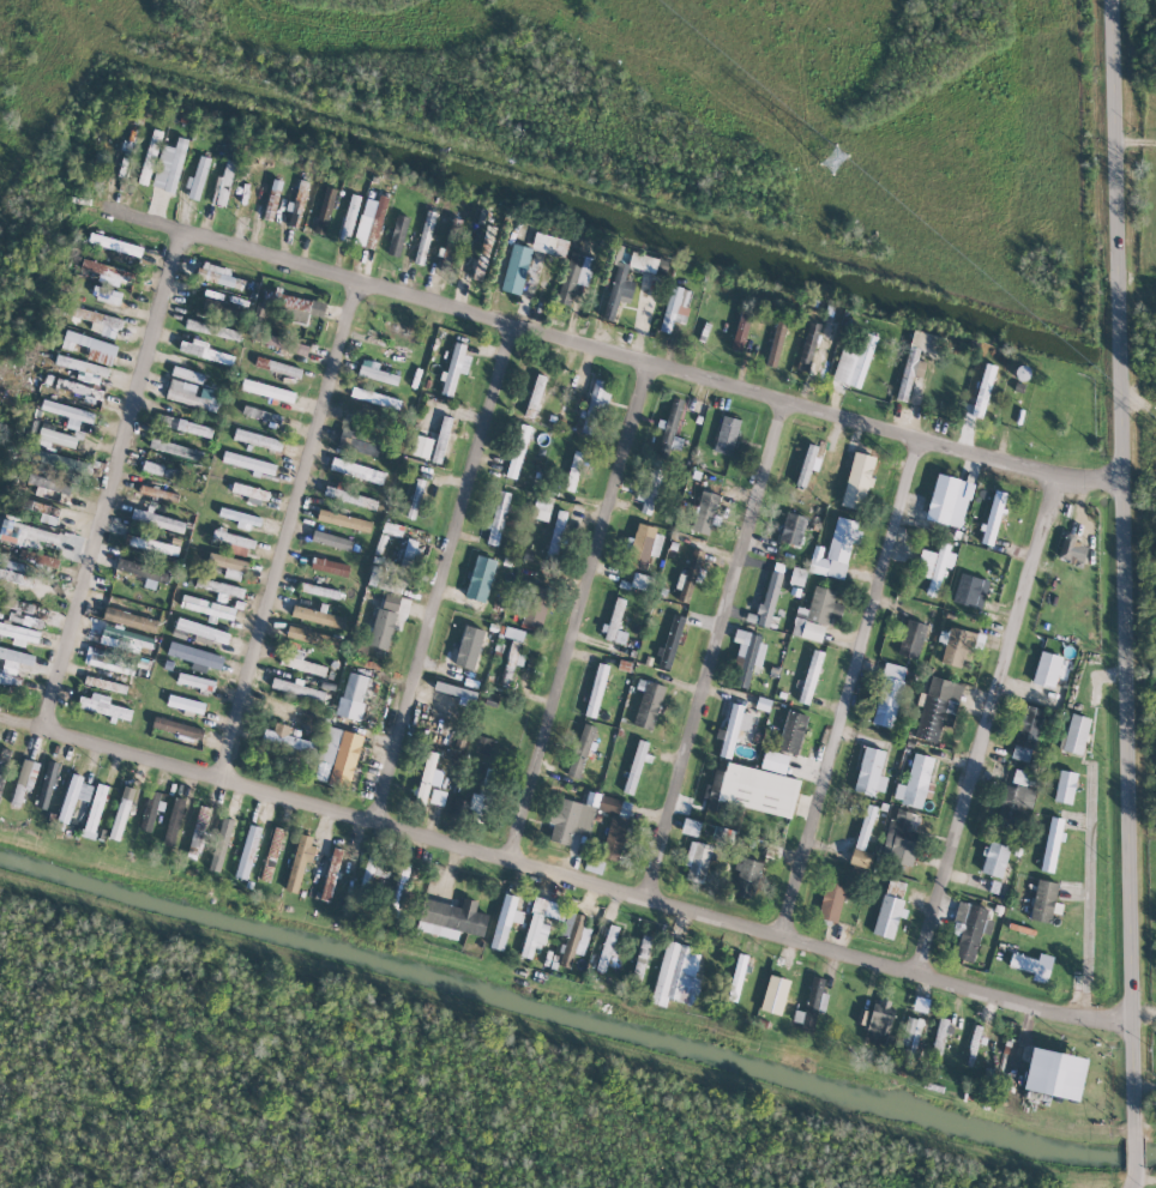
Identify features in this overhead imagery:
road: (1133, 150)
building: (150, 157)
building: (170, 165)
building: (198, 177)
power tower: (855, 177)
building: (223, 185)
building: (272, 199)
building: (297, 203)
building: (325, 210)
building: (478, 216)
building: (349, 217)
building: (372, 224)
building: (398, 235)
building: (425, 237)
building: (451, 241)
building: (115, 245)
building: (549, 245)
building: (643, 261)
building: (480, 267)
building: (516, 269)
building: (107, 271)
building: (213, 273)
building: (574, 276)
building: (618, 291)
building: (106, 294)
building: (222, 308)
building: (675, 308)
building: (302, 309)
building: (259, 312)
building: (97, 319)
building: (212, 328)
building: (281, 342)
building: (776, 344)
building: (90, 346)
building: (807, 346)
building: (204, 351)
road: (607, 354)
building: (913, 363)
building: (278, 367)
building: (456, 367)
building: (83, 368)
building: (377, 372)
building: (187, 374)
building: (78, 390)
building: (267, 391)
building: (192, 394)
building: (980, 394)
building: (536, 396)
building: (594, 408)
building: (68, 414)
building: (261, 414)
building: (185, 426)
building: (670, 426)
building: (55, 435)
building: (727, 435)
building: (441, 439)
building: (258, 440)
building: (357, 445)
building: (422, 446)
building: (176, 448)
building: (518, 451)
building: (248, 463)
building: (58, 464)
building: (808, 464)
building: (162, 470)
building: (356, 470)
building: (573, 471)
road: (120, 481)
building: (857, 481)
building: (651, 489)
building: (249, 492)
building: (350, 497)
building: (415, 499)
building: (949, 500)
building: (543, 507)
building: (43, 511)
building: (704, 512)
building: (993, 517)
building: (241, 518)
building: (498, 518)
building: (157, 519)
building: (344, 520)
building: (389, 527)
building: (793, 529)
road: (297, 532)
building: (26, 533)
building: (558, 533)
building: (331, 539)
building: (234, 542)
building: (151, 544)
building: (643, 545)
building: (1068, 548)
building: (836, 549)
building: (410, 553)
building: (37, 557)
building: (228, 565)
building: (16, 566)
building: (935, 566)
building: (330, 567)
road: (1122, 568)
building: (144, 572)
road: (450, 577)
building: (482, 577)
building: (797, 577)
building: (17, 578)
building: (642, 581)
building: (219, 587)
building: (319, 590)
building: (970, 591)
building: (767, 601)
building: (207, 607)
building: (536, 608)
building: (815, 614)
building: (319, 616)
road: (582, 616)
building: (14, 617)
building: (130, 620)
building: (32, 621)
building: (385, 621)
building: (615, 622)
building: (201, 631)
building: (19, 634)
building: (516, 634)
building: (313, 637)
building: (126, 639)
building: (911, 639)
building: (670, 640)
building: (464, 646)
building: (957, 646)
building: (748, 653)
building: (195, 655)
road: (723, 656)
building: (17, 658)
building: (512, 658)
building: (109, 662)
building: (301, 662)
building: (1047, 669)
building: (811, 676)
building: (10, 679)
building: (197, 682)
building: (106, 685)
building: (297, 689)
building: (596, 689)
building: (456, 691)
road: (857, 693)
building: (353, 695)
building: (889, 695)
building: (186, 704)
building: (648, 704)
building: (103, 706)
building: (938, 707)
building: (176, 728)
building: (734, 728)
road: (995, 729)
building: (791, 732)
building: (1026, 732)
building: (1076, 734)
building: (287, 737)
building: (483, 746)
building: (580, 750)
building: (338, 756)
building: (775, 761)
building: (636, 766)
building: (2, 768)
building: (871, 772)
building: (427, 776)
building: (24, 780)
building: (915, 782)
building: (47, 784)
building: (1065, 786)
building: (752, 789)
building: (438, 797)
building: (70, 798)
building: (1014, 800)
building: (614, 806)
building: (468, 807)
building: (151, 808)
building: (95, 810)
building: (121, 813)
building: (572, 819)
building: (174, 821)
building: (691, 827)
building: (901, 834)
building: (615, 837)
building: (221, 844)
building: (1052, 844)
building: (247, 851)
building: (272, 852)
building: (994, 858)
building: (300, 861)
building: (697, 861)
building: (369, 869)
building: (331, 874)
building: (746, 878)
road: (562, 879)
road: (1088, 893)
building: (1043, 900)
building: (832, 901)
building: (890, 909)
building: (451, 918)
building: (505, 921)
building: (538, 924)
building: (970, 929)
building: (573, 937)
building: (607, 946)
building: (642, 958)
building: (1032, 965)
building: (678, 975)
building: (736, 977)
building: (775, 994)
building: (921, 1003)
building: (812, 1005)
building: (880, 1023)
building: (911, 1032)
building: (939, 1036)
building: (973, 1045)
building: (1055, 1073)
road: (1133, 1151)
road: (1132, 1176)

